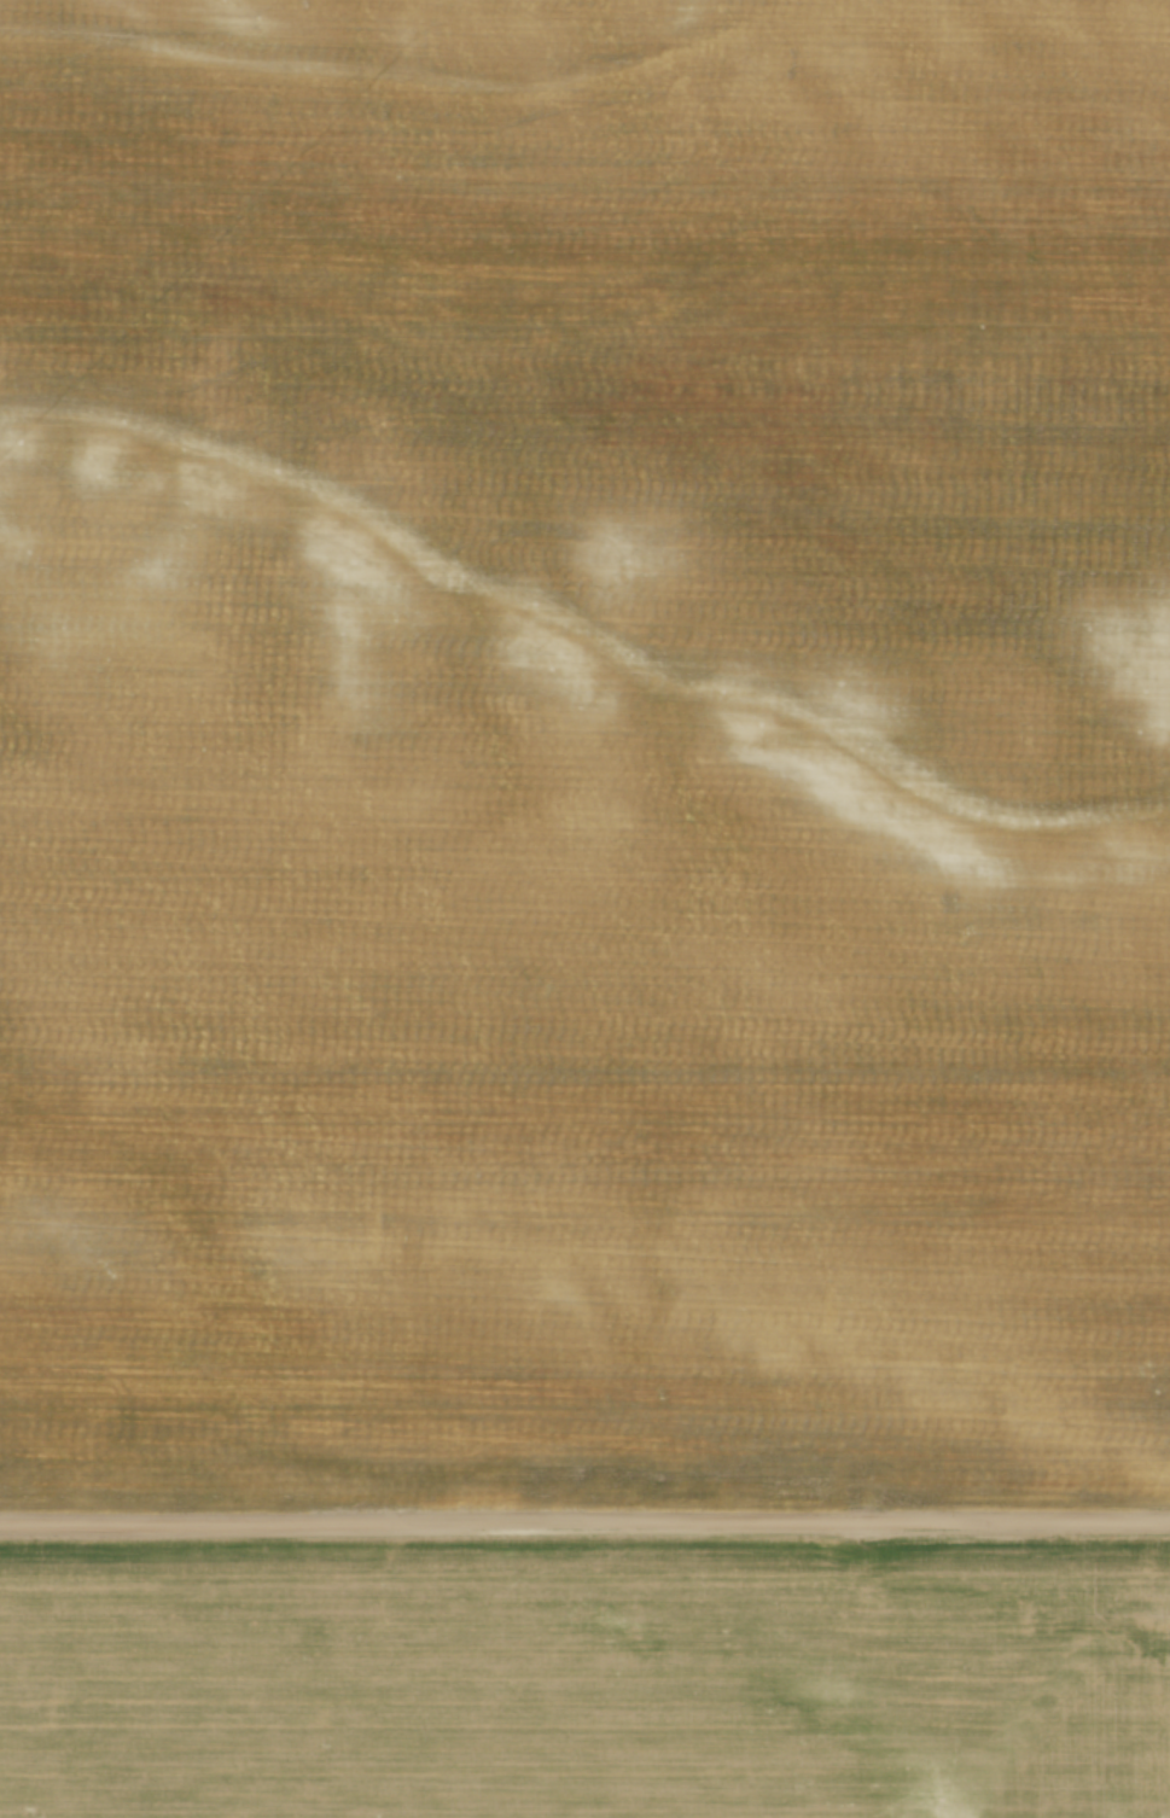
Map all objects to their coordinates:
crop: (584, 751)
road: (584, 1520)
crop: (584, 1676)

